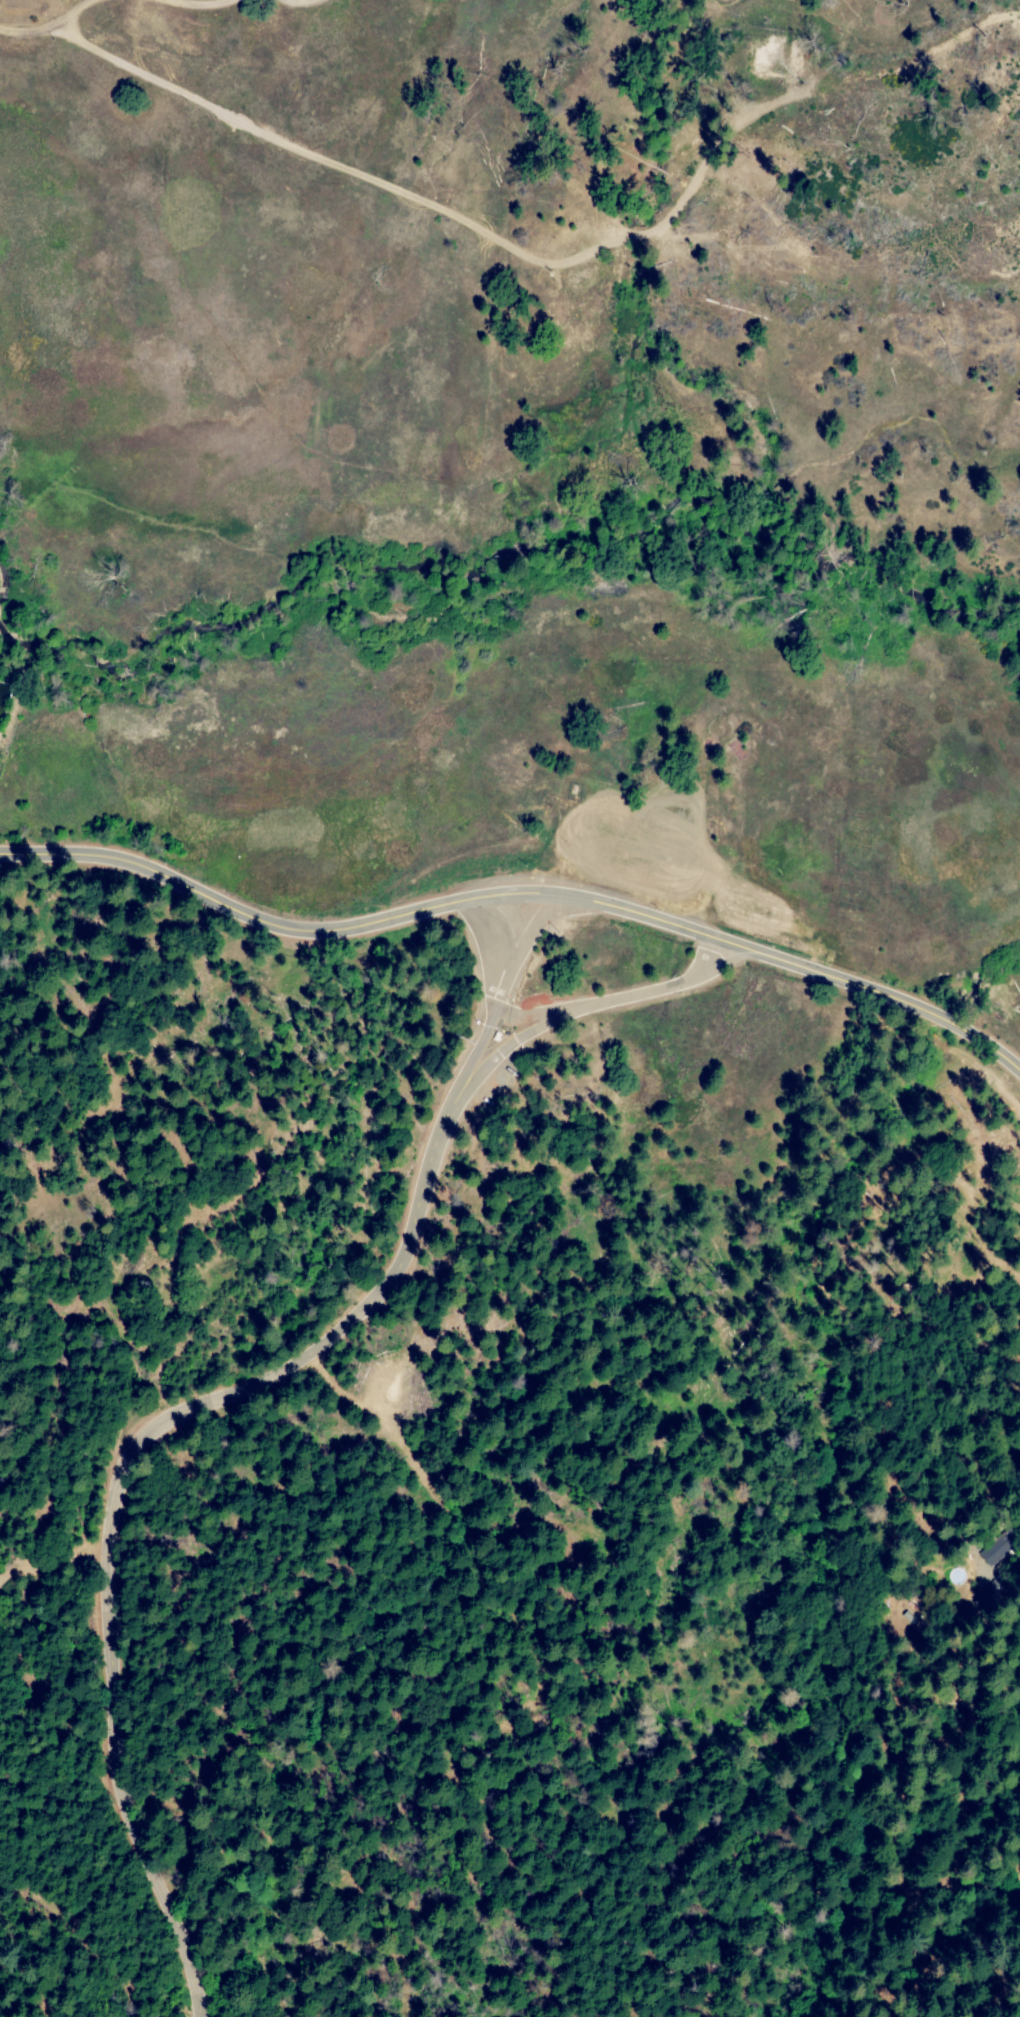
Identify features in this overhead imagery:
road: (247, 1)
road: (47, 27)
road: (517, 893)
road: (619, 998)
road: (187, 1404)
road: (941, 1422)
building: (998, 1549)
building: (986, 1595)

